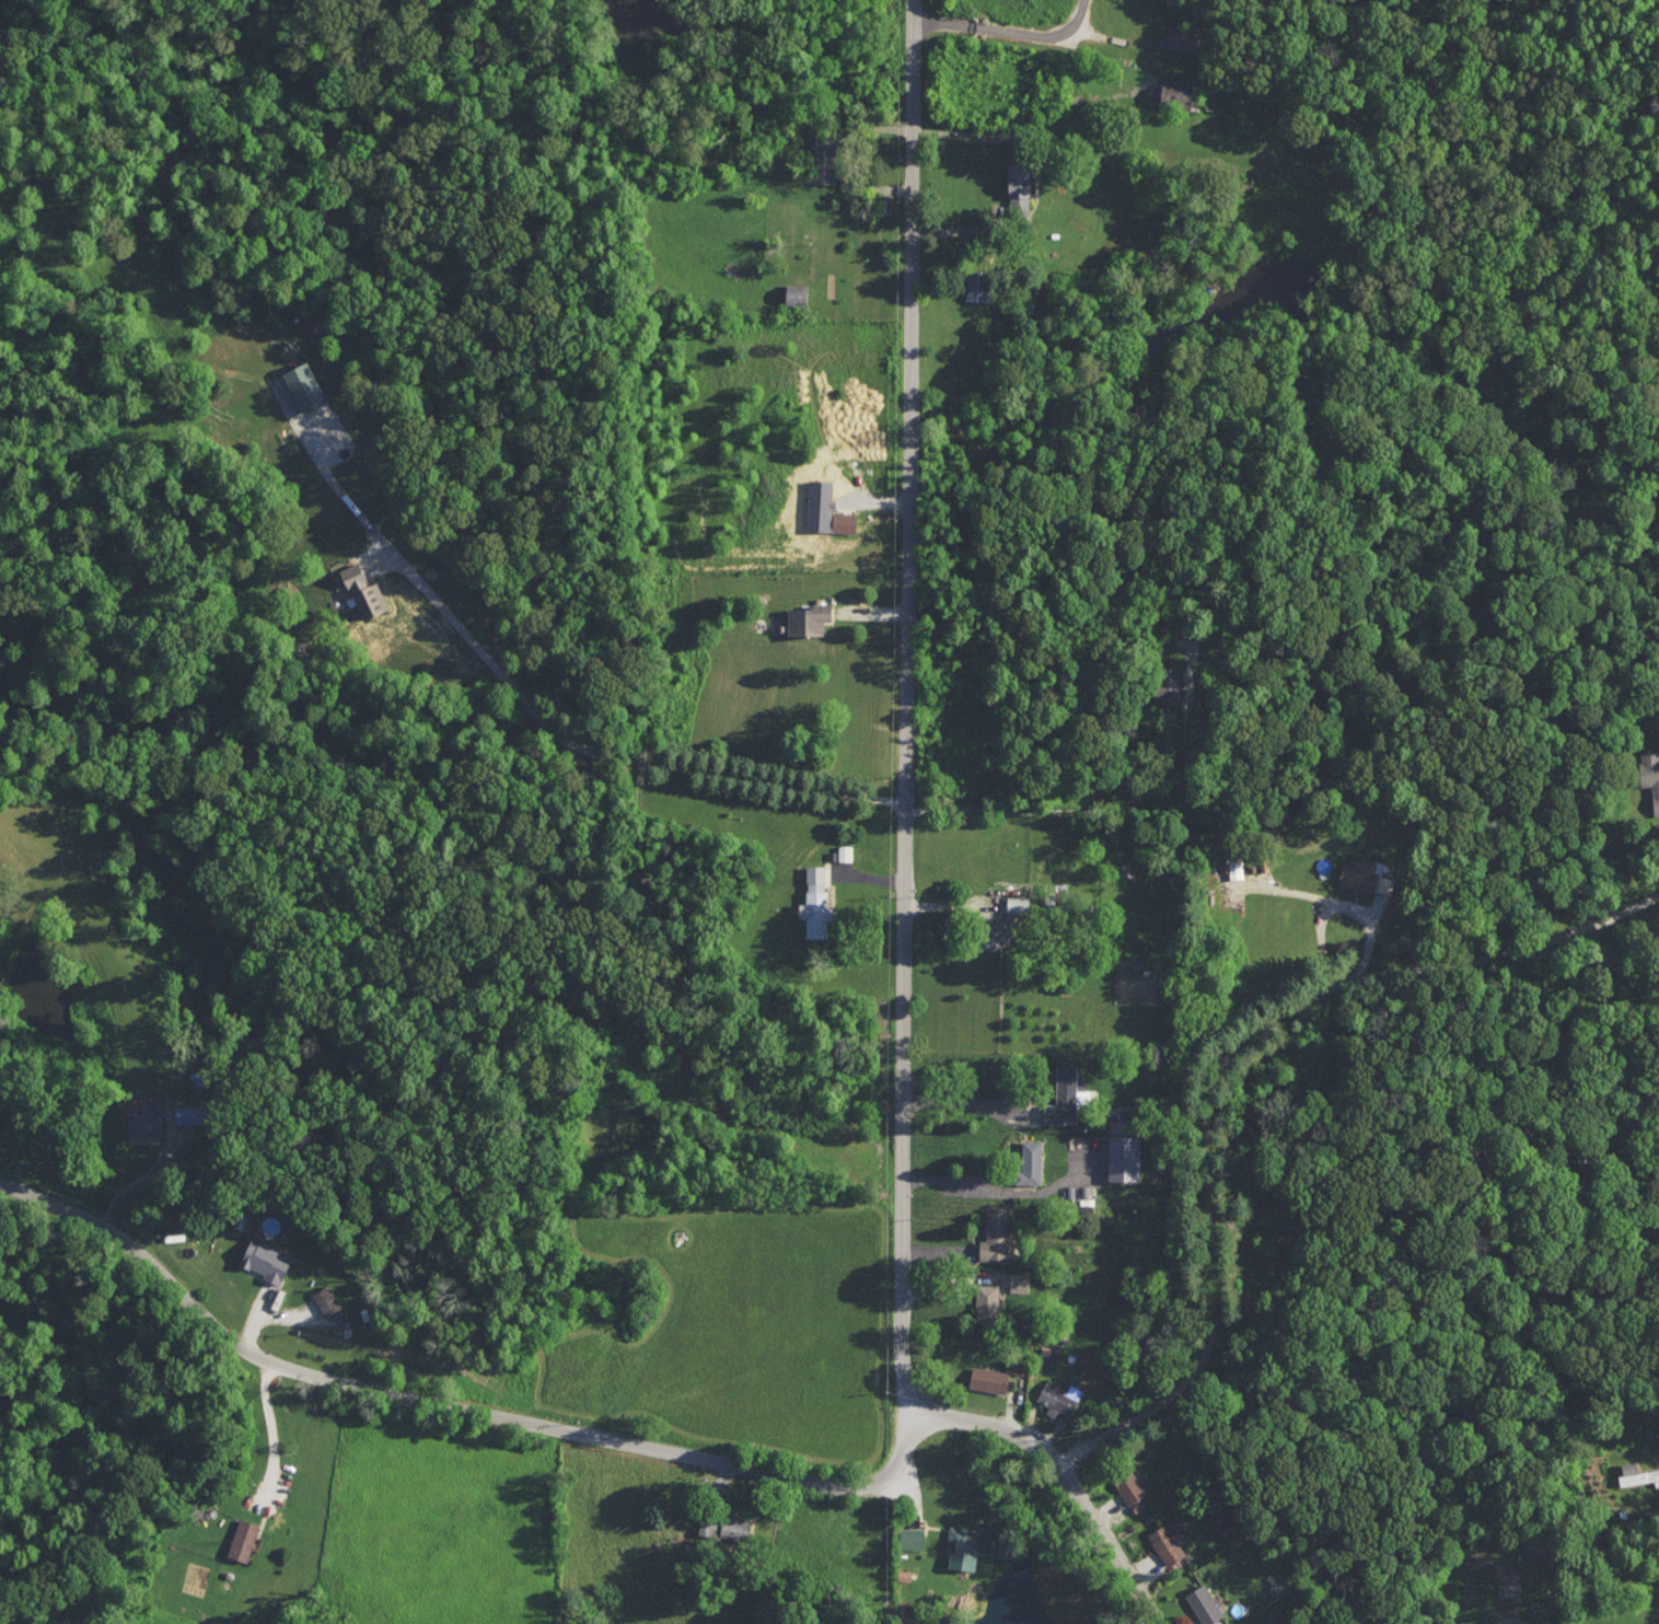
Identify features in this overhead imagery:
road: (1075, 21)
road: (984, 26)
building: (1183, 38)
building: (1177, 93)
road: (970, 136)
building: (824, 162)
building: (1020, 184)
building: (979, 286)
building: (797, 293)
building: (302, 386)
building: (845, 522)
building: (366, 592)
building: (810, 619)
building: (1170, 683)
road: (909, 710)
road: (564, 736)
building: (1650, 775)
road: (1101, 811)
building: (845, 852)
building: (1234, 866)
building: (1360, 875)
building: (816, 903)
road: (948, 906)
road: (1405, 915)
building: (1006, 924)
road: (1226, 1064)
building: (1064, 1095)
road: (963, 1102)
building: (192, 1113)
building: (146, 1117)
building: (1125, 1157)
building: (1030, 1161)
road: (1356, 1213)
building: (997, 1233)
building: (266, 1260)
building: (1019, 1281)
building: (327, 1299)
building: (987, 1302)
road: (252, 1323)
building: (1016, 1365)
building: (989, 1379)
building: (1060, 1397)
road: (446, 1405)
road: (271, 1435)
road: (1070, 1474)
building: (1637, 1474)
building: (1129, 1486)
building: (727, 1526)
building: (913, 1538)
building: (243, 1540)
building: (1169, 1542)
building: (963, 1547)
building: (1205, 1604)

